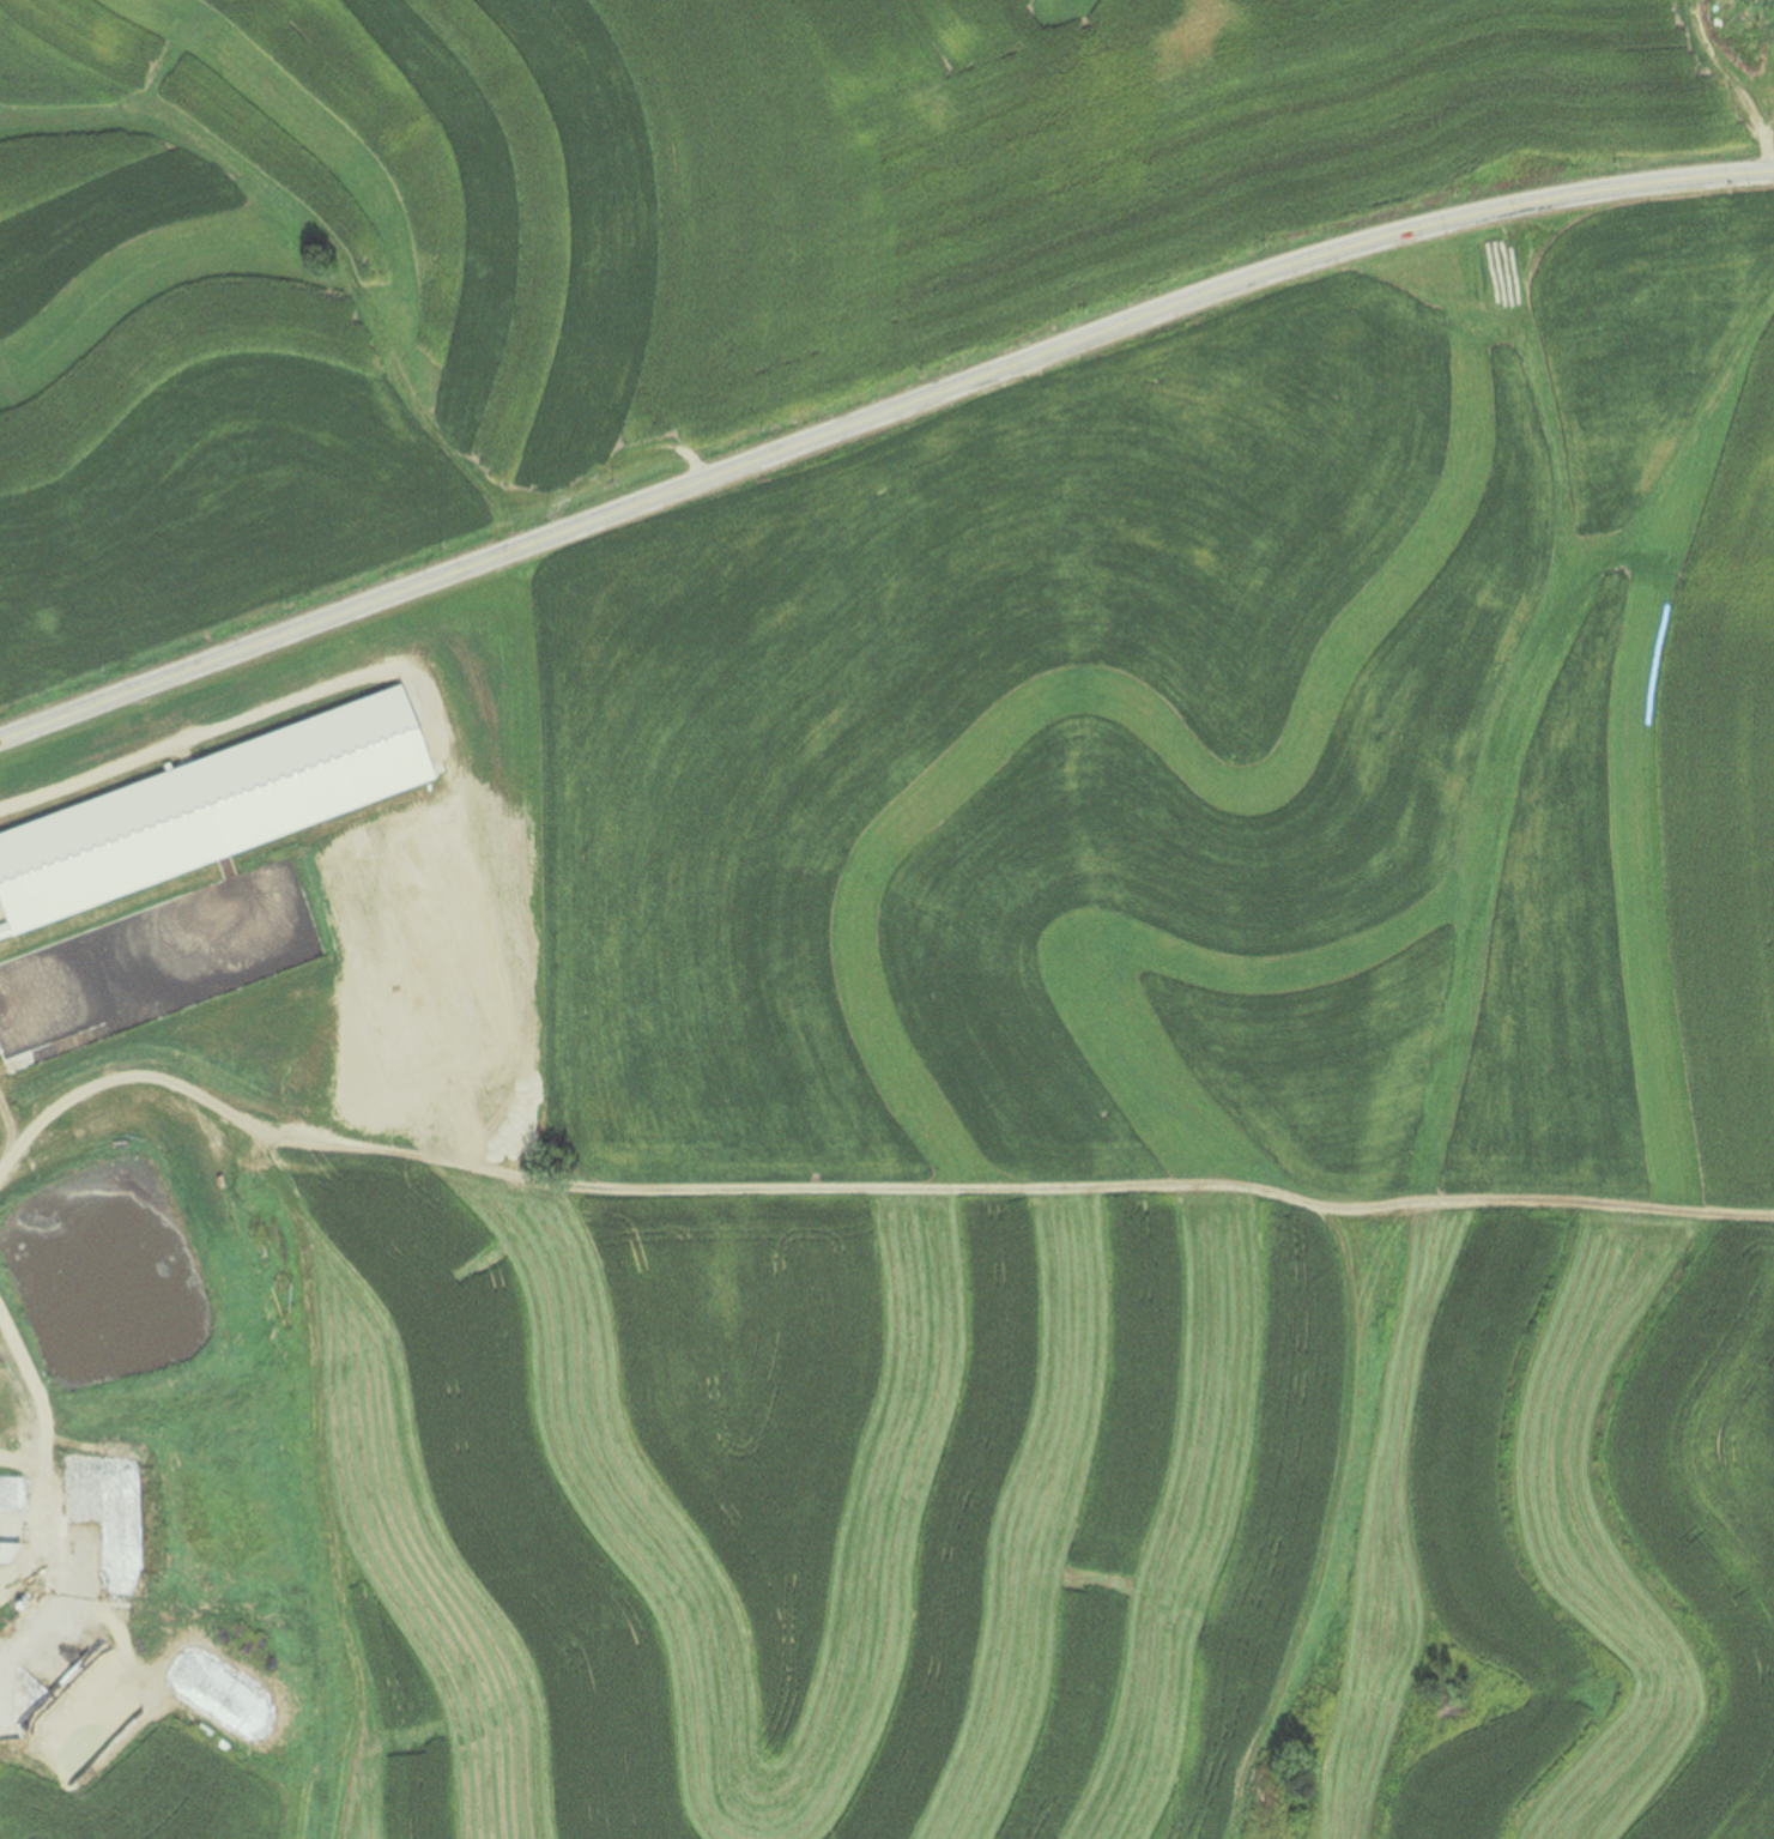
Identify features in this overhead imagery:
road: (877, 416)
road: (250, 710)
road: (31, 1391)
road: (35, 1511)

